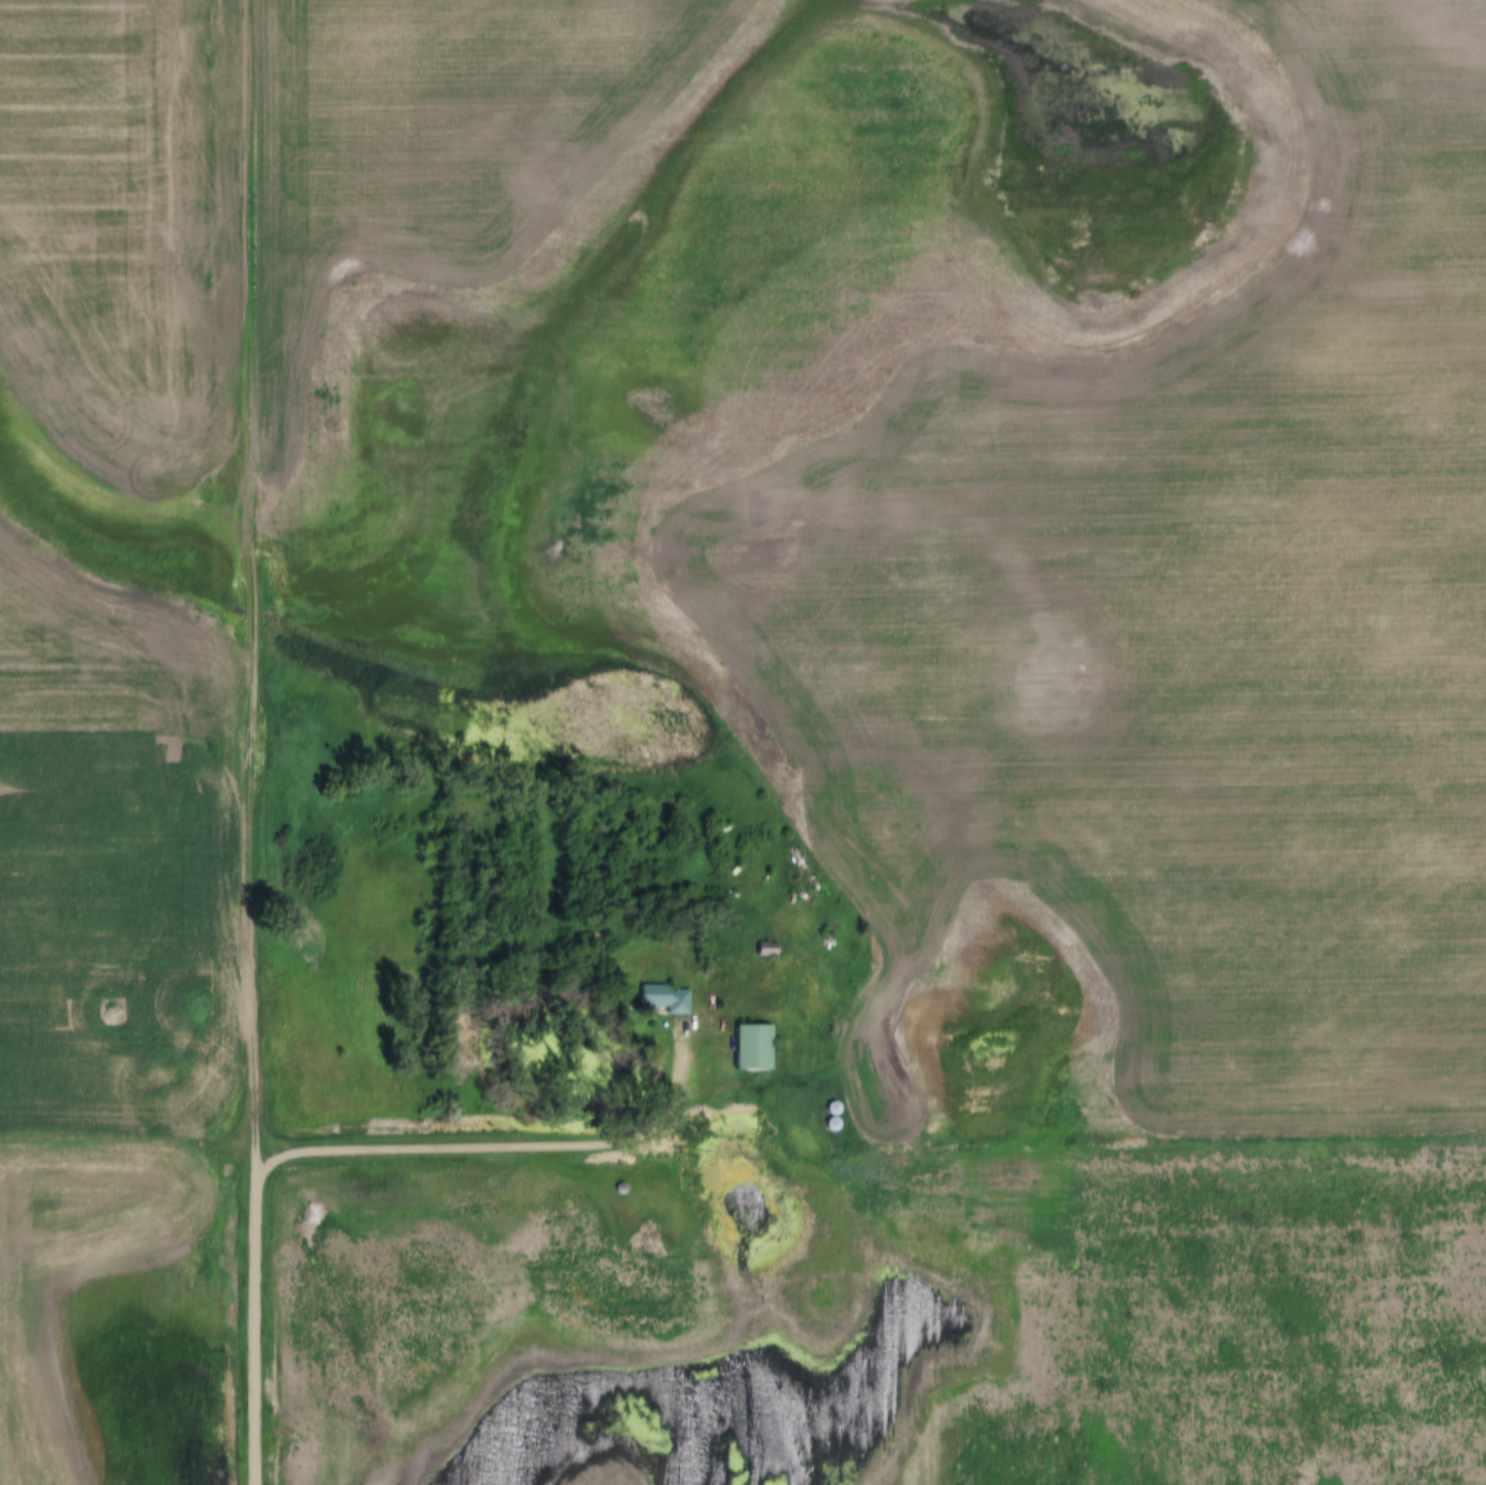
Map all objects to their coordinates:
road: (259, 573)
building: (762, 953)
building: (663, 1000)
building: (749, 1049)
road: (516, 1142)
road: (260, 1316)

